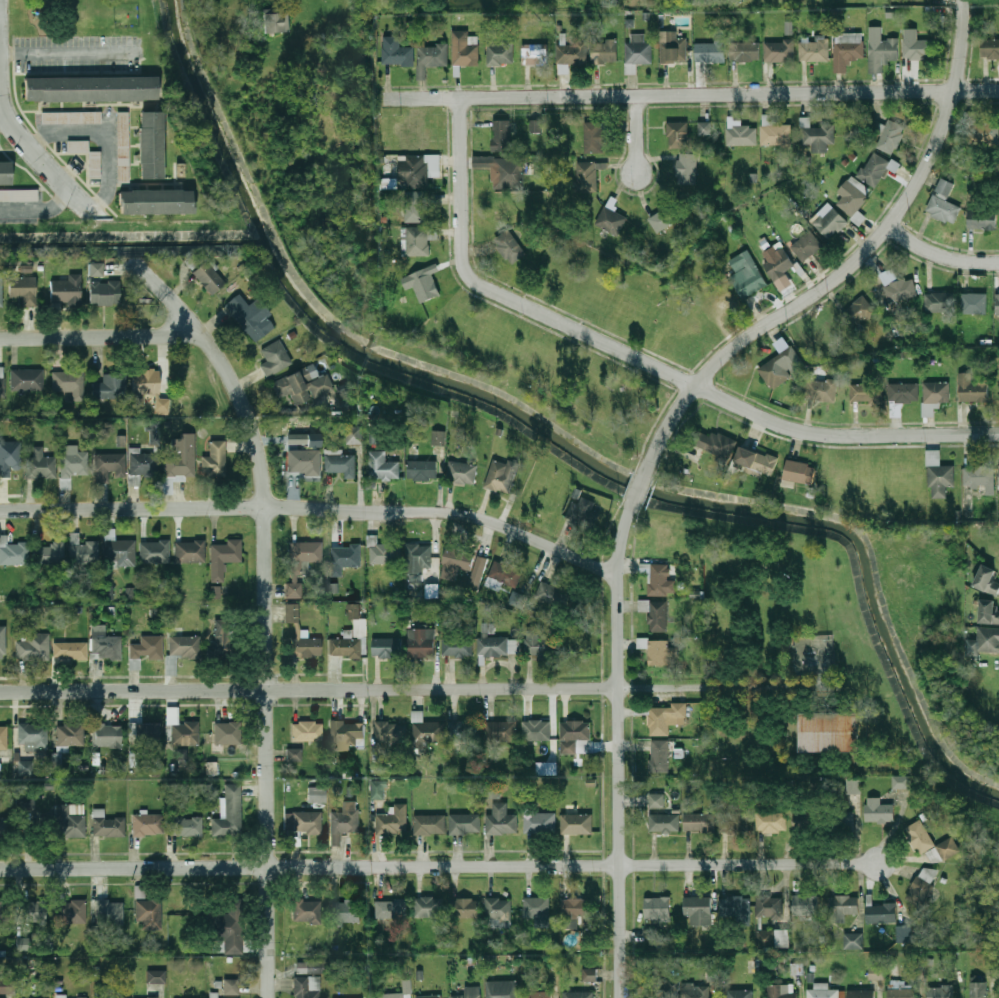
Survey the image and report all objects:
building: (277, 23)
building: (672, 48)
building: (916, 48)
building: (989, 48)
building: (464, 49)
building: (847, 49)
building: (780, 50)
building: (396, 51)
building: (604, 51)
building: (711, 51)
building: (815, 51)
building: (638, 52)
building: (744, 52)
building: (882, 52)
road: (66, 53)
building: (500, 53)
building: (536, 54)
building: (571, 54)
building: (431, 58)
building: (91, 89)
road: (692, 93)
building: (71, 118)
road: (6, 120)
building: (536, 126)
building: (704, 128)
building: (979, 129)
road: (636, 132)
building: (893, 132)
building: (679, 134)
building: (777, 134)
road: (24, 135)
building: (501, 135)
building: (741, 135)
building: (817, 135)
building: (593, 137)
road: (111, 140)
building: (152, 145)
building: (78, 146)
building: (123, 147)
building: (95, 165)
building: (874, 168)
building: (687, 169)
building: (417, 170)
building: (503, 170)
building: (5, 173)
building: (587, 175)
building: (18, 195)
building: (852, 199)
building: (156, 202)
building: (943, 202)
road: (37, 205)
building: (415, 207)
building: (666, 216)
building: (982, 219)
building: (611, 220)
building: (831, 224)
building: (417, 241)
building: (510, 246)
building: (806, 246)
road: (939, 255)
road: (850, 263)
building: (779, 264)
building: (95, 270)
building: (209, 278)
building: (424, 284)
building: (750, 284)
building: (1, 290)
building: (24, 290)
building: (67, 290)
building: (900, 290)
building: (105, 293)
building: (940, 302)
building: (974, 303)
building: (997, 305)
building: (857, 312)
building: (251, 317)
road: (102, 335)
building: (820, 337)
road: (641, 358)
building: (275, 359)
building: (778, 367)
building: (27, 381)
building: (69, 384)
building: (303, 386)
building: (2, 387)
building: (111, 387)
building: (820, 387)
building: (972, 388)
building: (148, 390)
building: (866, 392)
building: (903, 392)
building: (935, 393)
building: (154, 432)
building: (354, 434)
building: (438, 437)
building: (303, 439)
river: (562, 439)
building: (712, 443)
building: (9, 458)
building: (180, 459)
building: (214, 460)
building: (756, 461)
building: (73, 462)
building: (304, 462)
building: (340, 462)
building: (109, 465)
building: (144, 465)
building: (40, 466)
building: (382, 466)
building: (422, 470)
building: (800, 471)
building: (462, 472)
building: (501, 476)
building: (939, 476)
building: (978, 476)
road: (638, 489)
road: (314, 507)
building: (582, 512)
building: (120, 552)
building: (155, 552)
building: (190, 552)
building: (85, 553)
building: (14, 554)
building: (385, 554)
building: (50, 555)
building: (346, 556)
building: (224, 558)
building: (416, 559)
building: (300, 563)
building: (463, 567)
building: (503, 576)
building: (987, 579)
building: (661, 580)
building: (431, 591)
building: (215, 592)
building: (553, 595)
road: (266, 608)
building: (988, 611)
building: (656, 614)
building: (302, 635)
building: (988, 640)
building: (349, 642)
building: (421, 642)
building: (539, 643)
building: (105, 644)
building: (494, 644)
building: (457, 645)
building: (225, 646)
building: (70, 647)
building: (184, 647)
building: (5, 648)
building: (34, 648)
building: (387, 648)
building: (146, 650)
building: (659, 650)
road: (418, 687)
building: (665, 717)
building: (347, 729)
building: (182, 730)
building: (429, 731)
building: (501, 731)
building: (537, 731)
building: (308, 732)
building: (391, 732)
building: (464, 732)
building: (829, 732)
building: (145, 734)
building: (229, 734)
building: (576, 734)
building: (71, 735)
building: (4, 736)
building: (33, 736)
building: (108, 736)
road: (618, 753)
building: (294, 755)
building: (659, 756)
building: (546, 768)
building: (0, 770)
building: (901, 782)
building: (854, 786)
building: (377, 789)
building: (492, 791)
building: (317, 795)
building: (656, 801)
building: (878, 810)
building: (229, 814)
building: (842, 819)
building: (502, 820)
building: (344, 821)
building: (68, 822)
building: (392, 822)
building: (700, 822)
building: (734, 822)
building: (806, 822)
building: (303, 823)
building: (540, 823)
building: (664, 823)
building: (772, 823)
building: (429, 824)
building: (465, 824)
building: (577, 824)
building: (107, 825)
building: (148, 825)
building: (186, 827)
building: (4, 828)
building: (931, 843)
road: (441, 866)
building: (923, 886)
building: (805, 905)
building: (536, 907)
building: (575, 907)
building: (843, 907)
building: (429, 908)
building: (465, 908)
building: (769, 908)
building: (391, 909)
building: (657, 909)
building: (736, 909)
building: (346, 910)
building: (698, 910)
building: (307, 911)
building: (33, 912)
building: (73, 912)
building: (499, 912)
building: (3, 913)
building: (109, 913)
building: (149, 913)
building: (881, 913)
building: (903, 933)
building: (229, 936)
building: (782, 938)
building: (853, 941)
building: (309, 968)
building: (876, 973)
building: (589, 974)
building: (157, 976)
building: (7, 987)
building: (232, 987)
building: (307, 988)
building: (502, 989)
building: (664, 989)
building: (979, 989)
building: (696, 991)
building: (782, 991)
building: (470, 992)
building: (823, 992)
building: (903, 992)
building: (941, 992)
building: (539, 994)
building: (740, 994)
building: (861, 994)
building: (391, 995)
building: (579, 995)
building: (61, 996)
building: (429, 996)
building: (82, 997)

